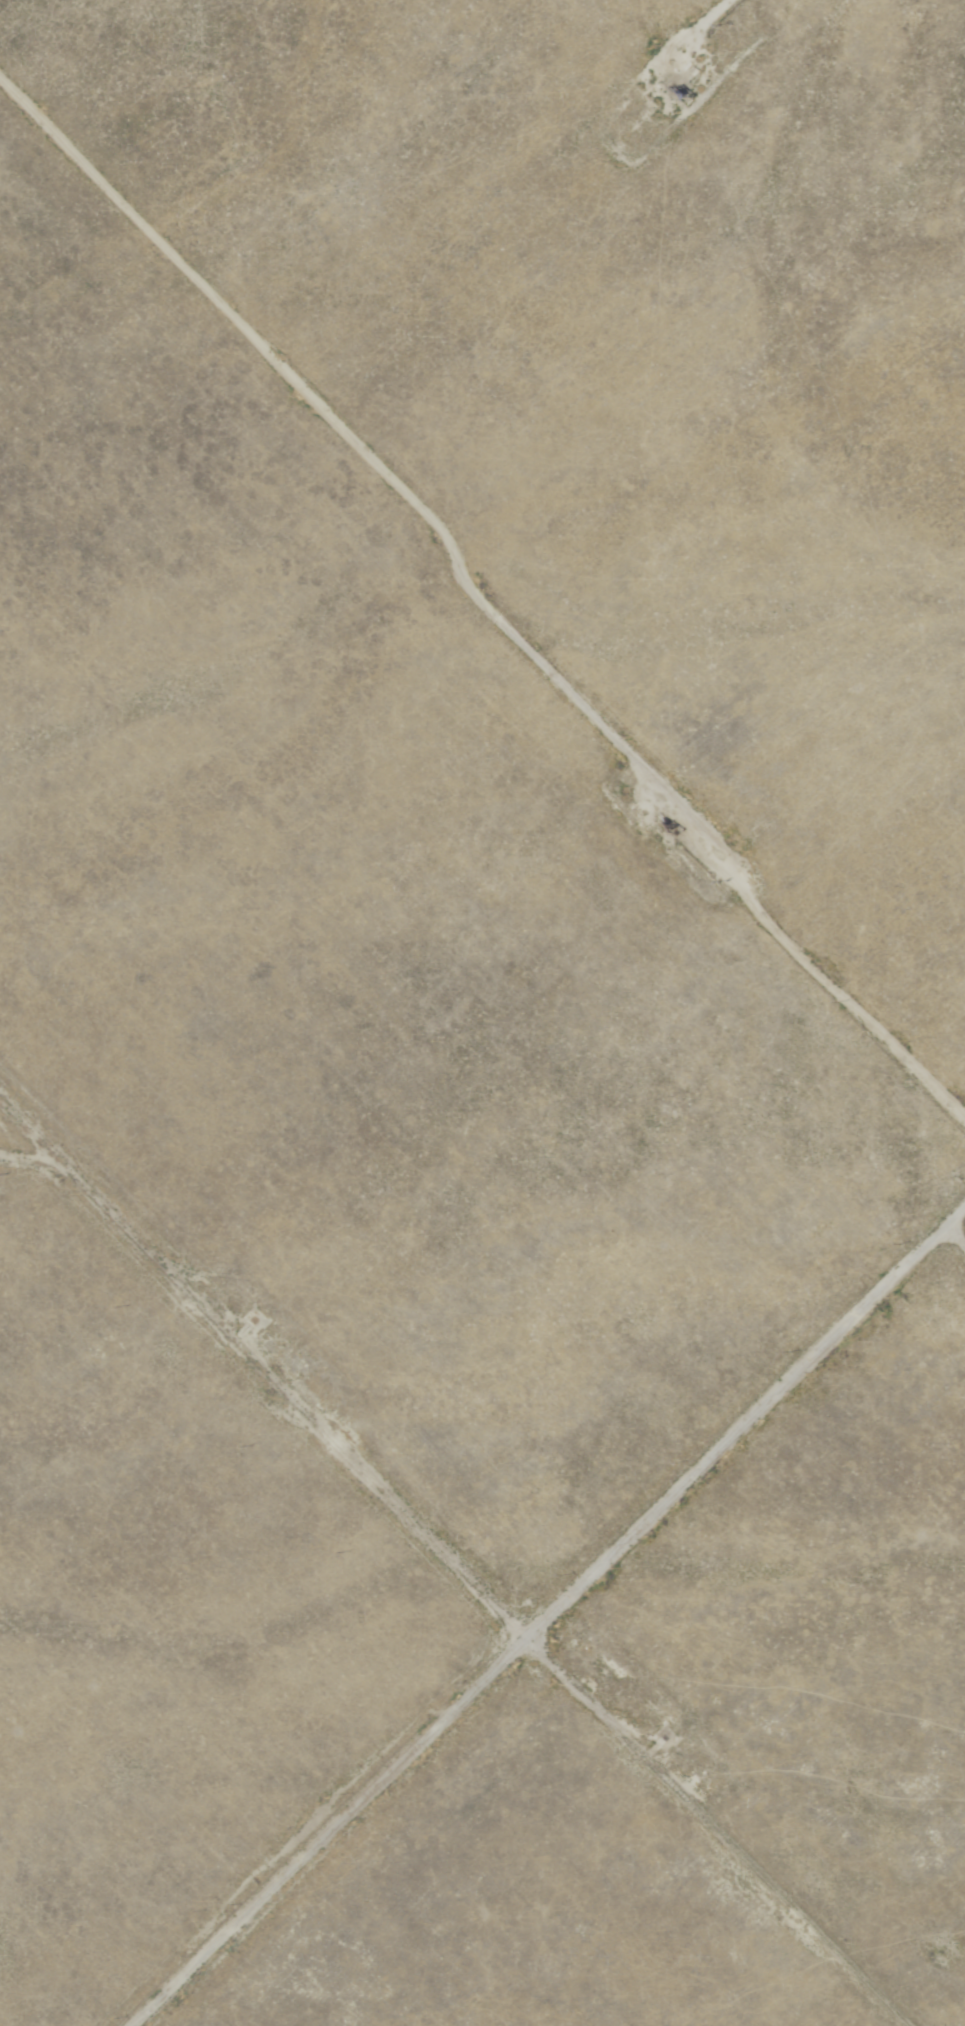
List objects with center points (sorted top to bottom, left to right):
road: (701, 10)
road: (345, 434)
road: (951, 1236)
road: (451, 1566)
road: (544, 1610)

